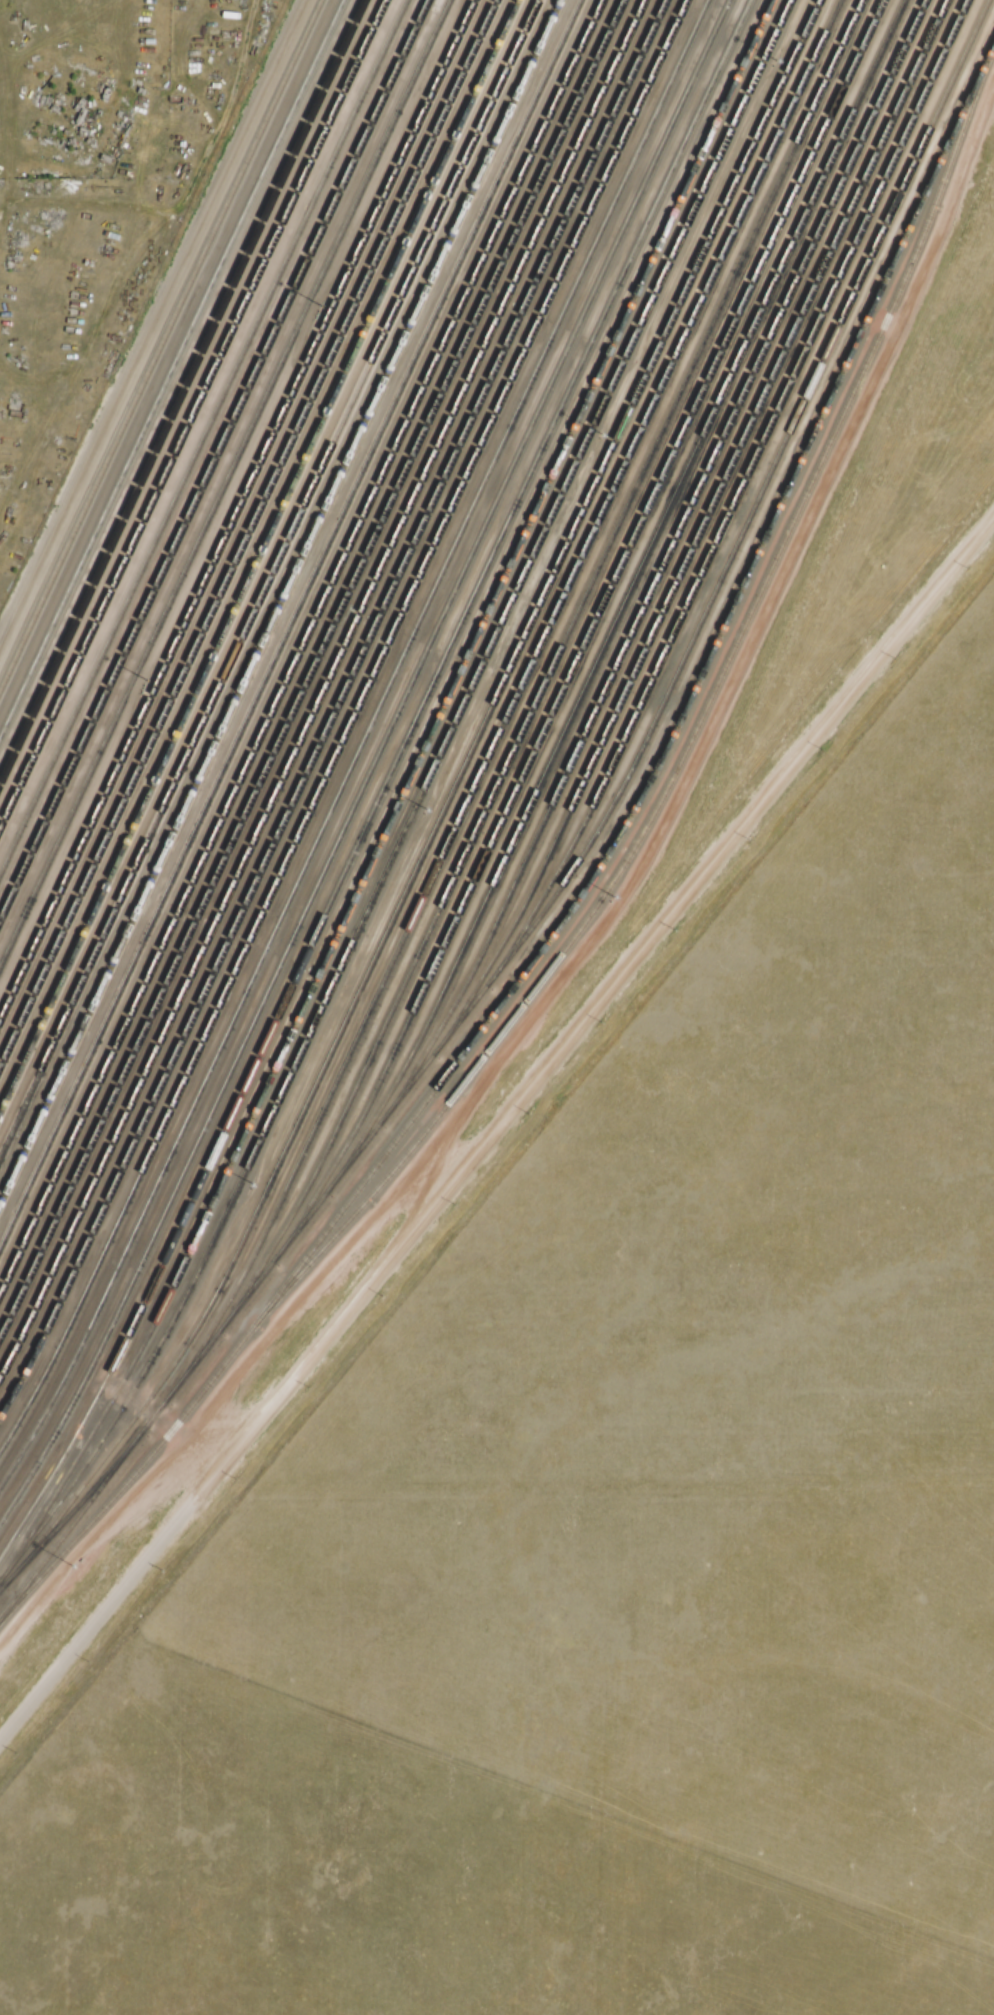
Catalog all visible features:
railway: (988, 56)
building: (918, 107)
road: (226, 111)
road: (946, 204)
road: (149, 250)
road: (877, 318)
road: (150, 322)
railway: (162, 348)
railway: (173, 371)
railway: (180, 389)
railway: (192, 414)
railway: (202, 435)
railway: (212, 457)
railway: (223, 482)
railway: (736, 494)
railway: (235, 508)
railway: (247, 532)
railway: (698, 532)
building: (443, 545)
railway: (258, 555)
railway: (662, 566)
railway: (268, 576)
building: (428, 583)
railway: (622, 599)
railway: (280, 602)
railway: (289, 621)
railway: (587, 633)
railway: (300, 645)
railway: (552, 662)
railway: (311, 667)
railway: (324, 689)
railway: (513, 696)
railway: (336, 708)
railway: (677, 723)
railway: (348, 728)
railway: (693, 733)
railway: (360, 746)
road: (699, 748)
railway: (637, 755)
railway: (372, 765)
railway: (384, 782)
railway: (419, 793)
railway: (400, 796)
railway: (444, 802)
building: (306, 902)
road: (608, 987)
road: (430, 1114)
road: (427, 1182)
road: (308, 1282)
road: (140, 1406)
road: (228, 1418)
road: (202, 1450)
railway: (136, 1469)
railway: (73, 1507)
railway: (73, 1521)
road: (91, 1538)
road: (110, 1601)

